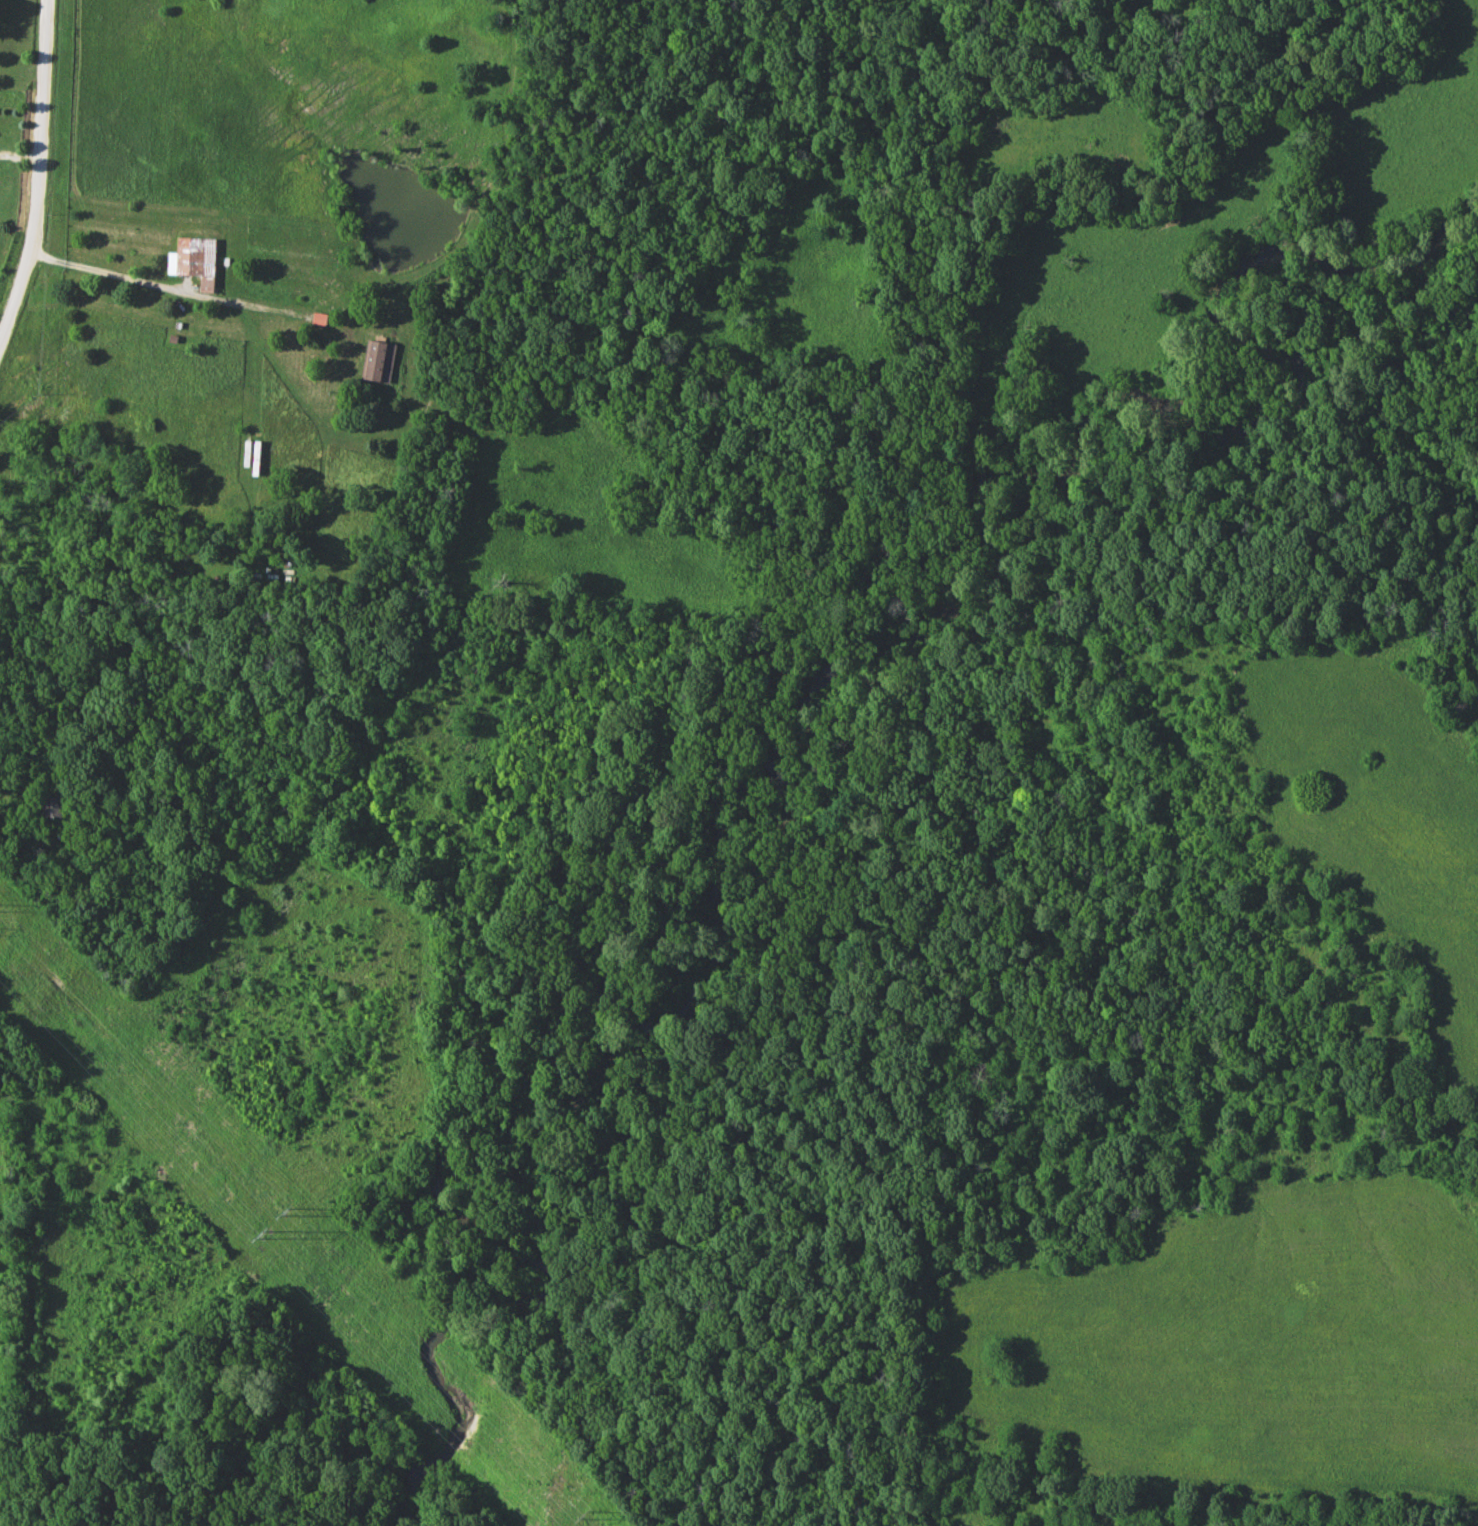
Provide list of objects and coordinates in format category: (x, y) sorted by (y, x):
road: (39, 177)
building: (199, 259)
road: (161, 285)
building: (321, 319)
building: (381, 362)
building: (55, 808)
power tower: (292, 1213)
power tower: (267, 1235)
power tower: (588, 1518)

